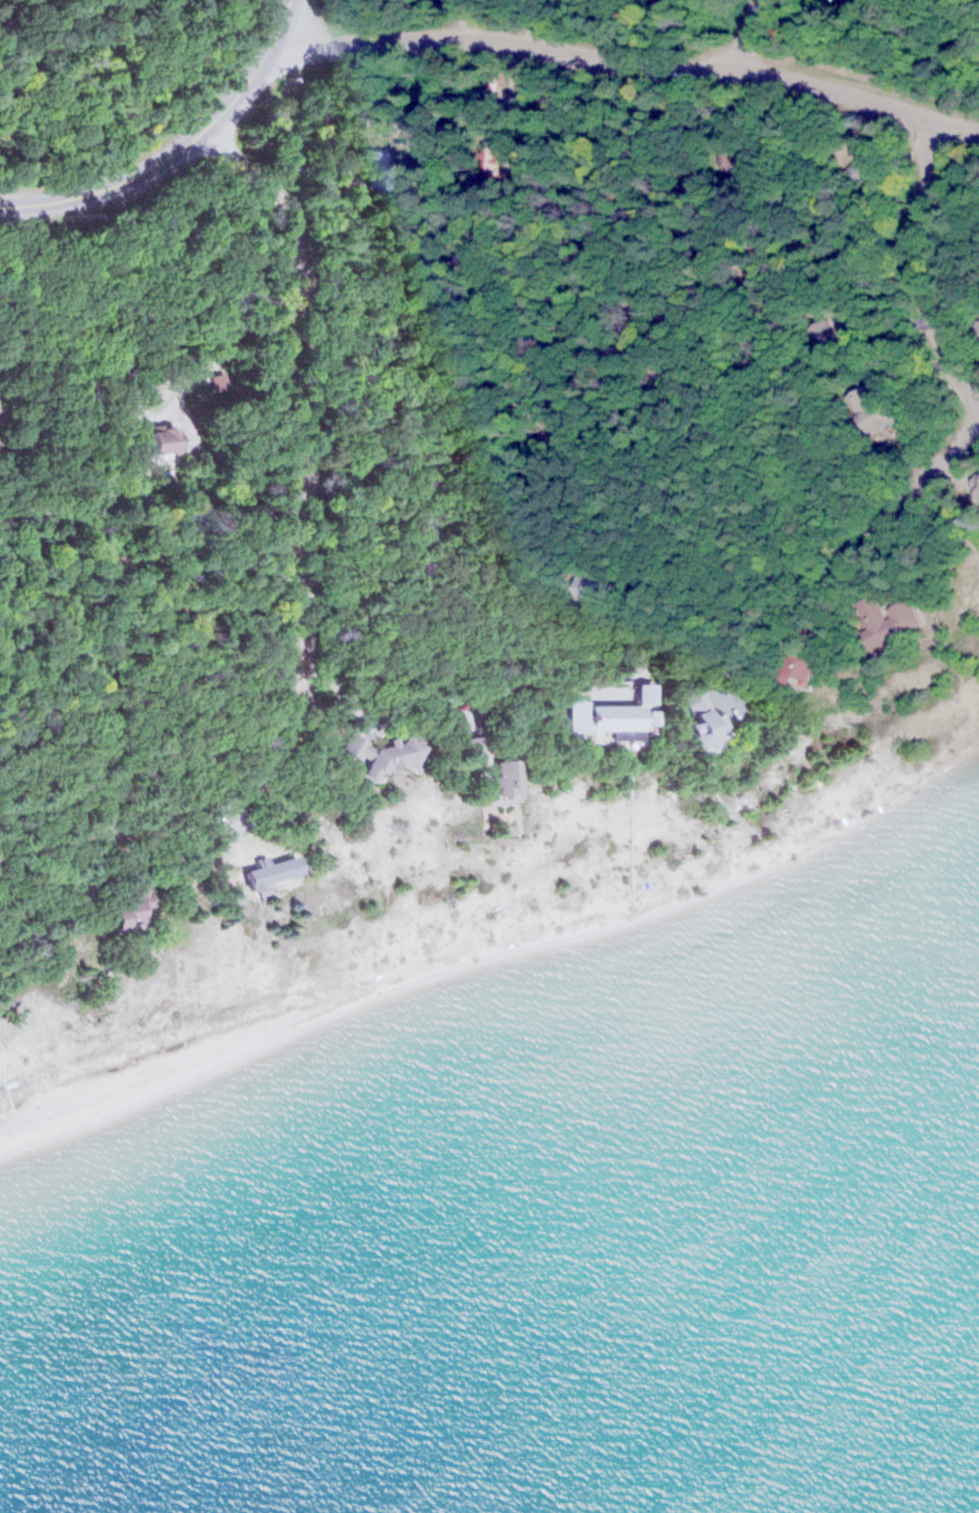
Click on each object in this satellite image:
road: (754, 32)
road: (630, 62)
road: (257, 70)
building: (508, 153)
building: (858, 166)
building: (382, 167)
road: (109, 187)
road: (916, 269)
building: (975, 328)
building: (825, 336)
building: (871, 409)
building: (167, 438)
road: (909, 482)
road: (303, 554)
building: (586, 586)
building: (883, 619)
road: (564, 649)
building: (795, 664)
building: (641, 691)
building: (693, 713)
building: (596, 720)
building: (375, 754)
building: (494, 776)
building: (269, 869)
building: (135, 909)

